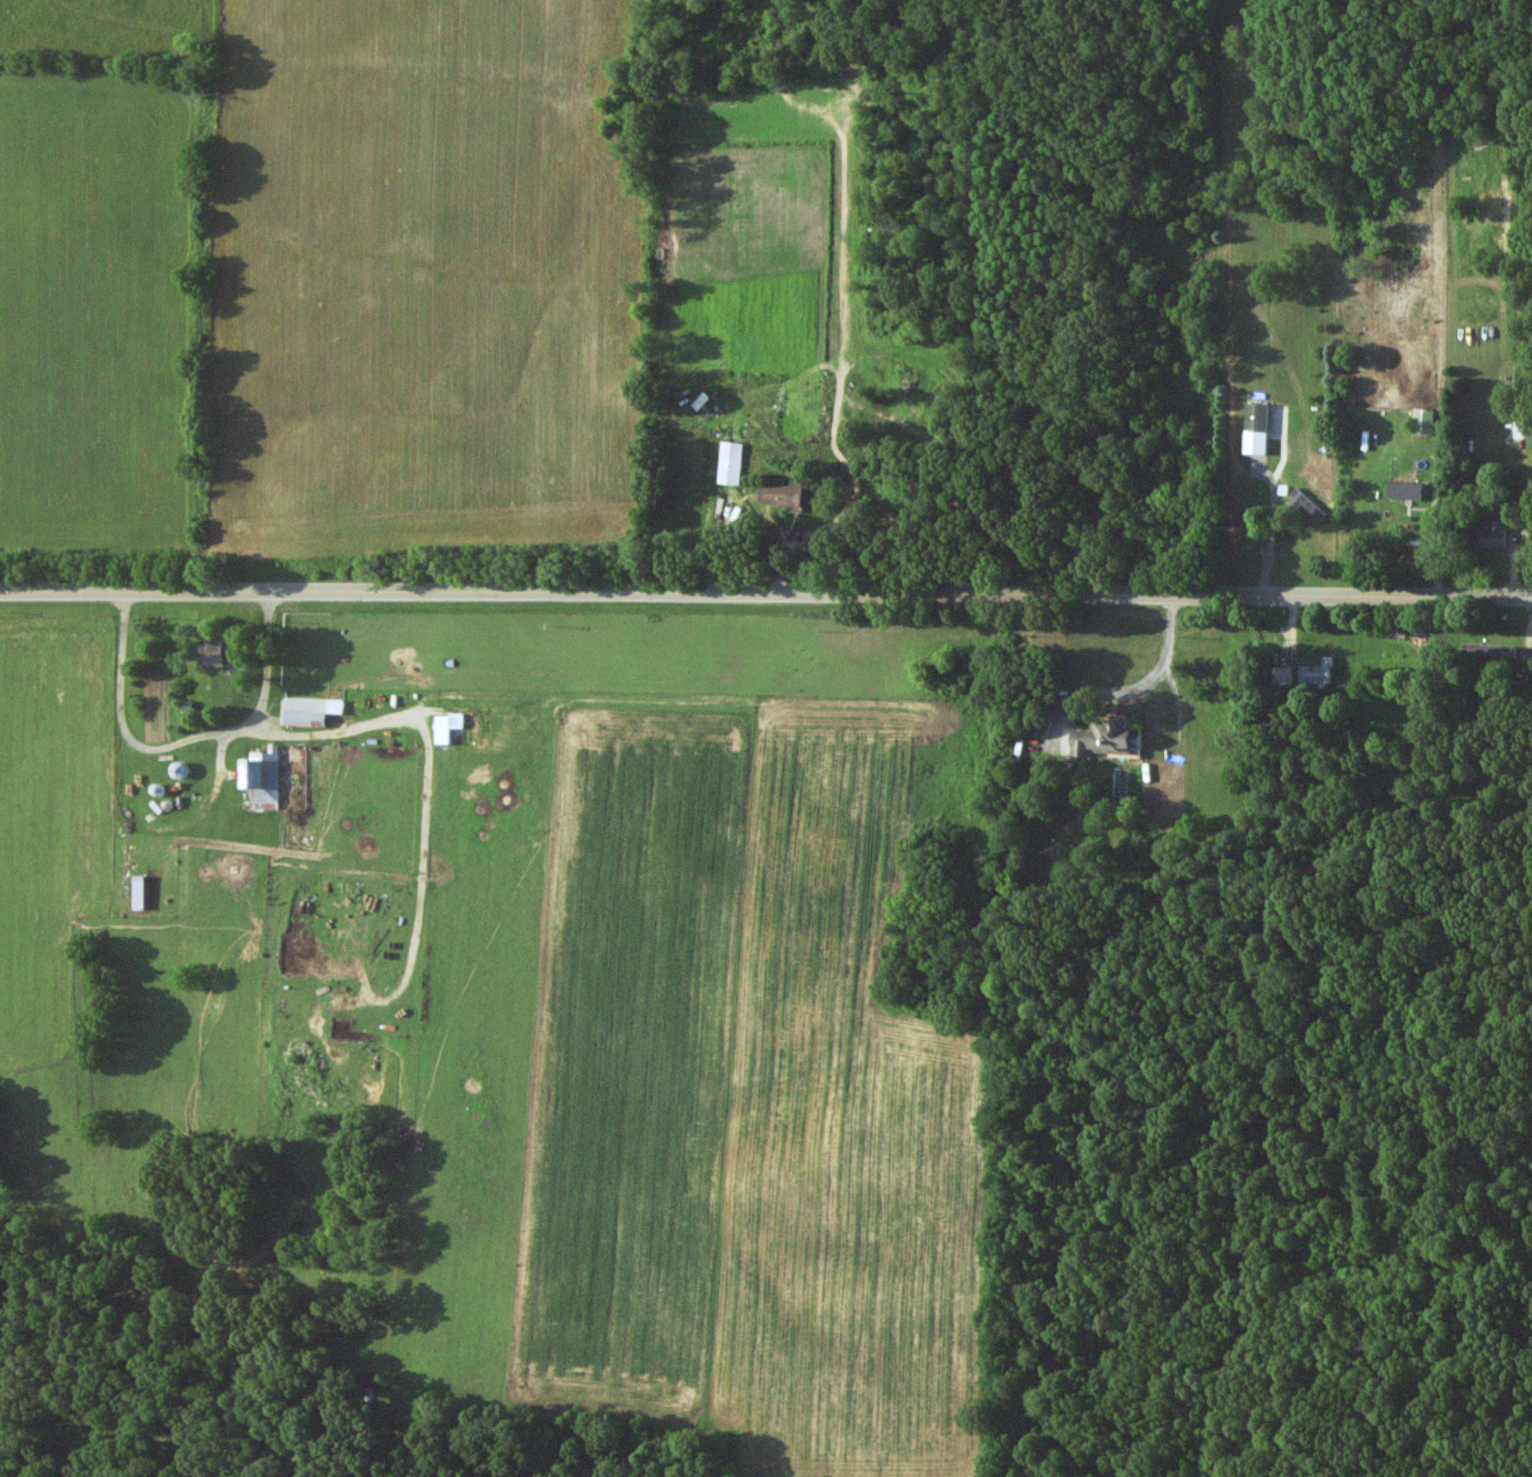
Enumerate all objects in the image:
building: (699, 401)
building: (1425, 422)
building: (1522, 424)
building: (1255, 428)
building: (730, 463)
building: (1405, 491)
building: (781, 495)
building: (1303, 504)
road: (750, 516)
building: (1490, 538)
road: (765, 595)
building: (223, 651)
building: (1487, 651)
building: (1525, 658)
building: (1313, 675)
road: (1146, 679)
building: (305, 712)
building: (1109, 737)
building: (1018, 750)
building: (260, 780)

